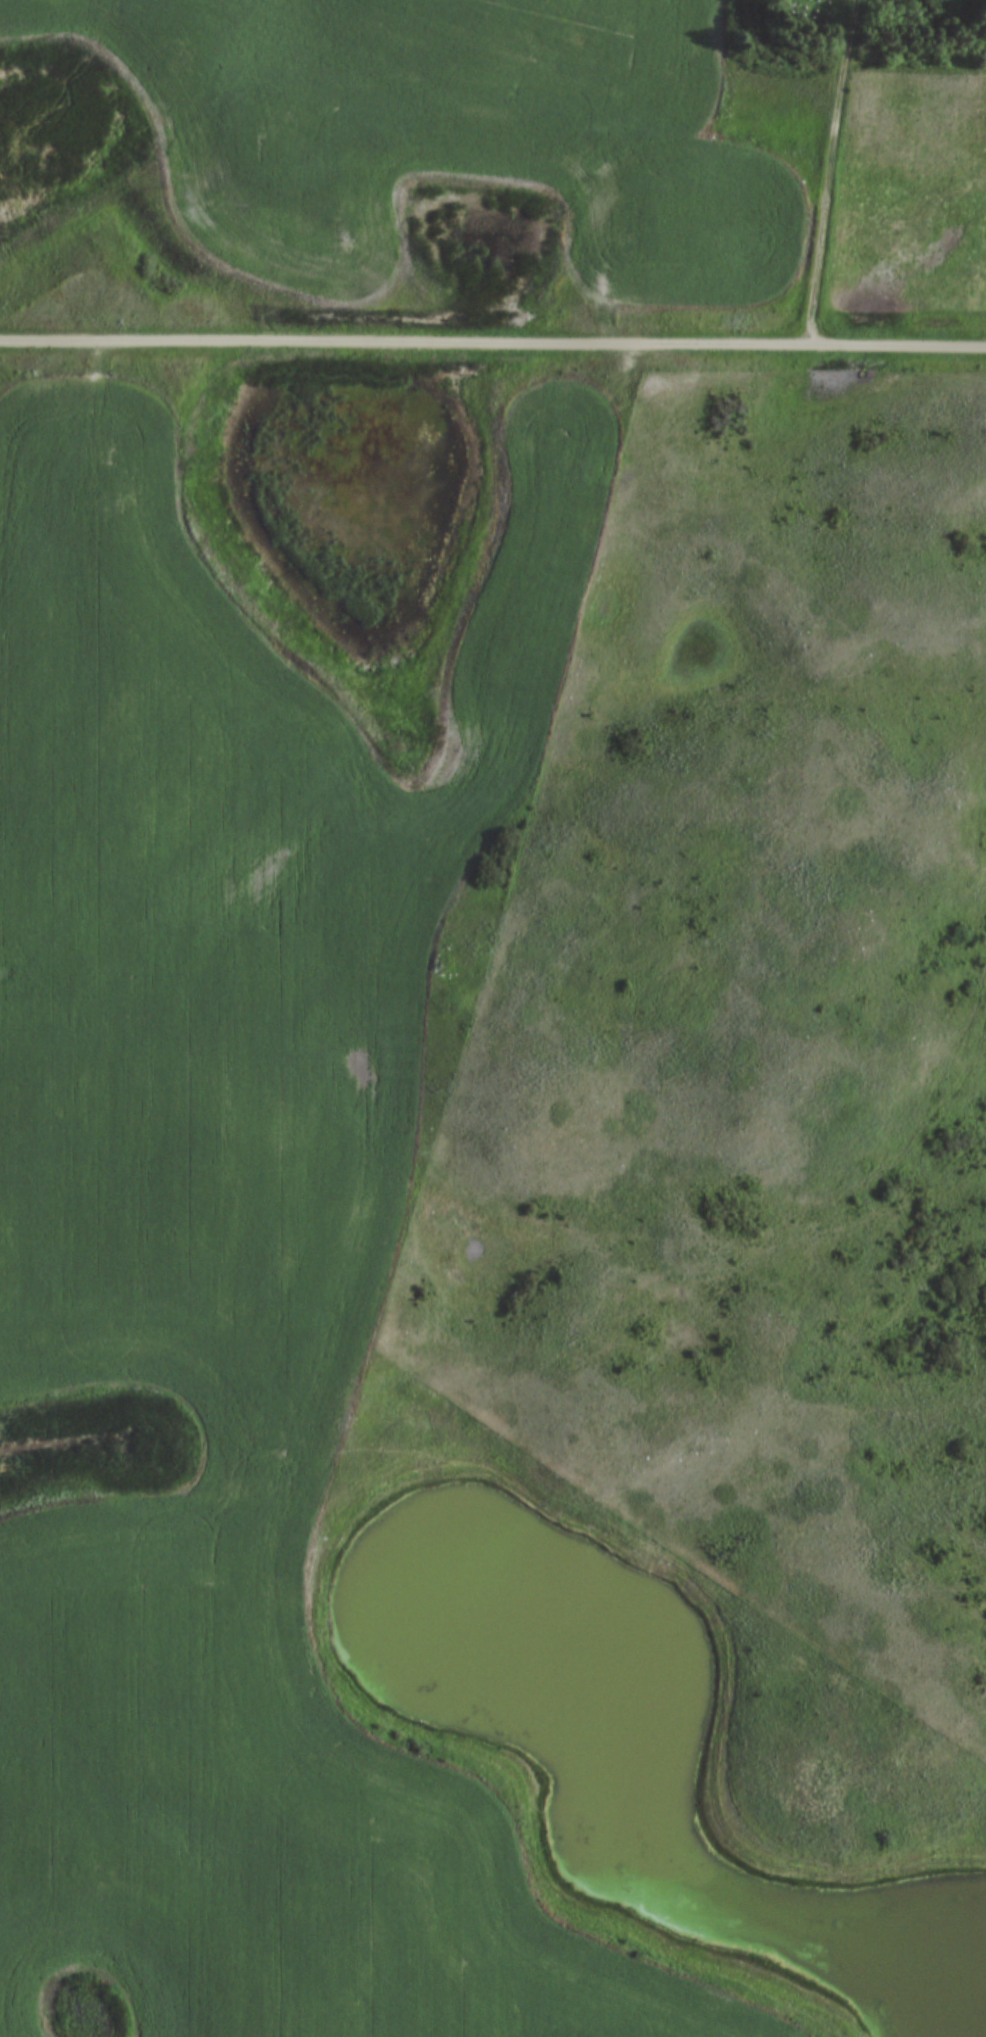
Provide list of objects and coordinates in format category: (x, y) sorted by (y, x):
road: (829, 171)
road: (492, 343)

